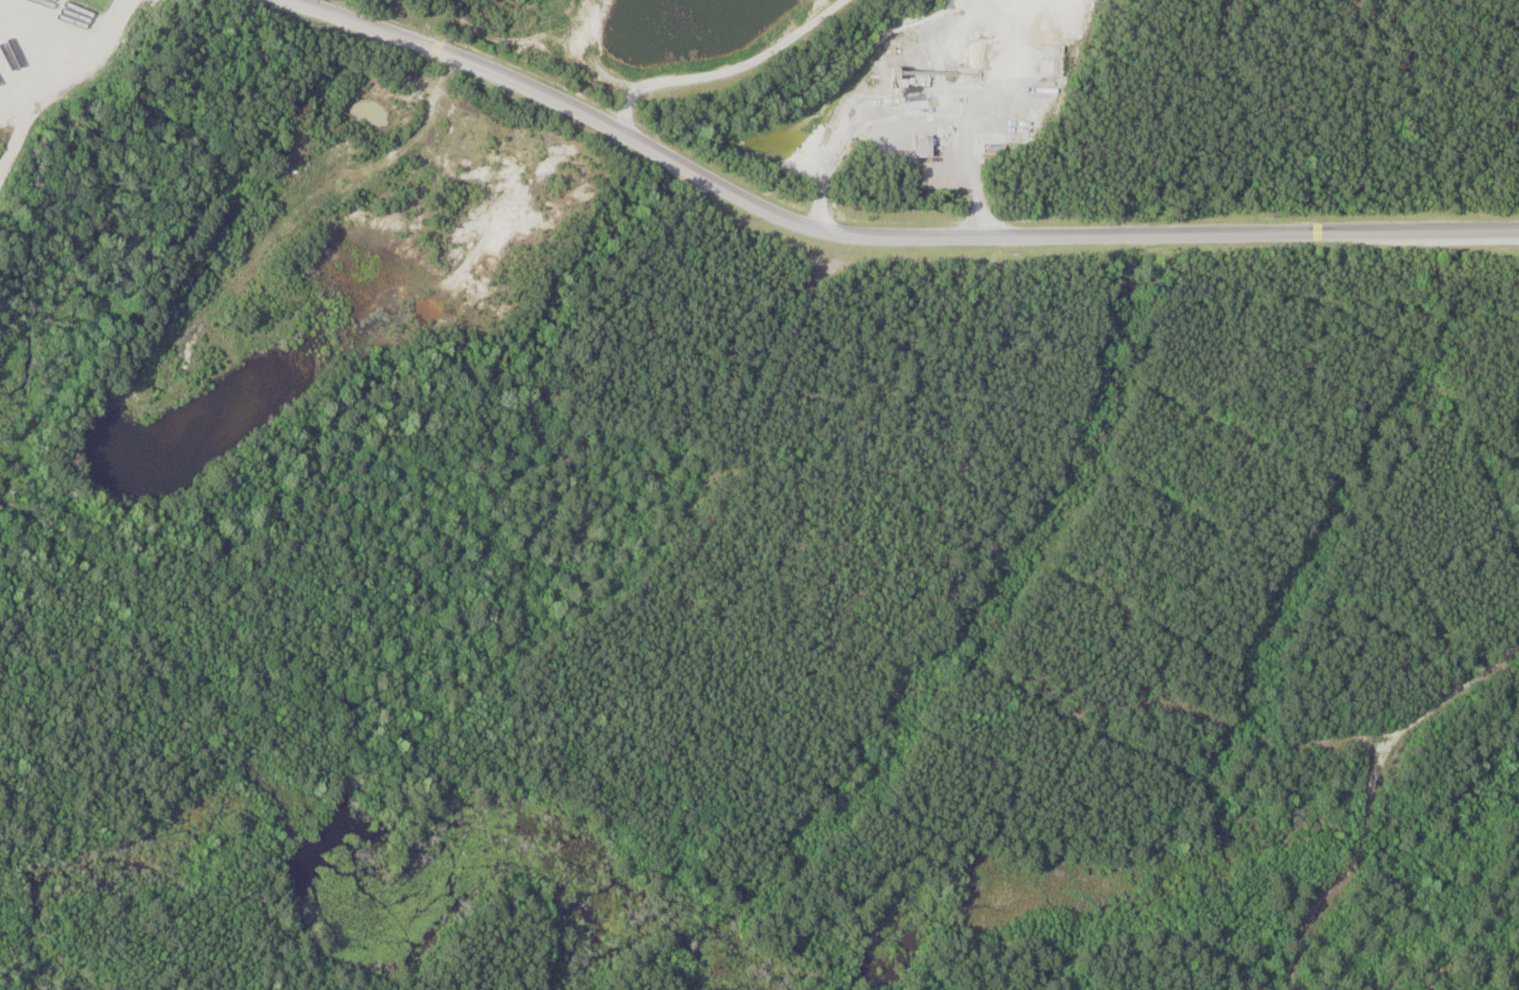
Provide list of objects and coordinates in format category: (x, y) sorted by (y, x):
road: (273, 10)
building: (920, 146)
road: (879, 230)

